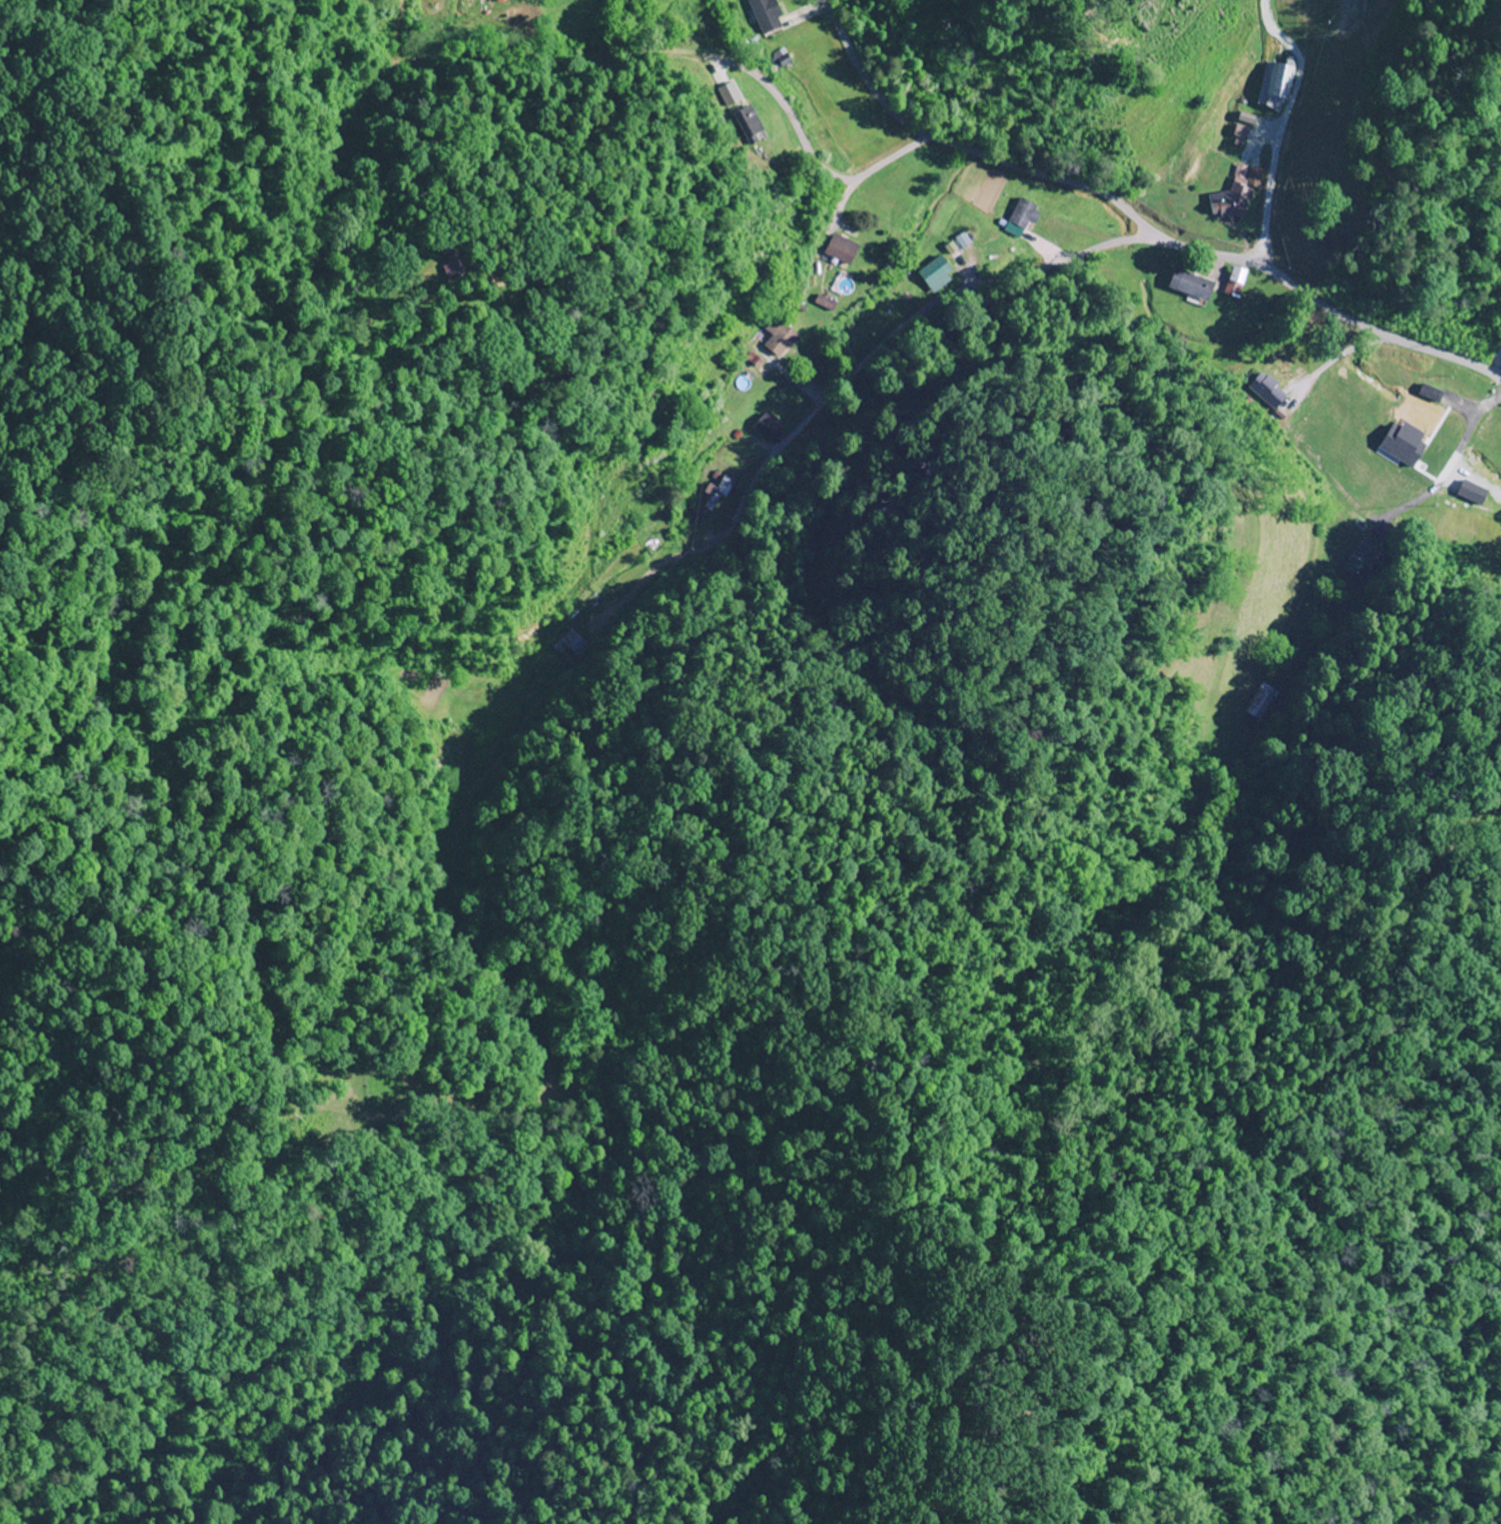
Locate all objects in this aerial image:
building: (501, 1)
building: (763, 11)
building: (1274, 86)
building: (1243, 121)
road: (963, 147)
building: (1236, 195)
building: (1025, 215)
building: (841, 250)
road: (1066, 264)
building: (449, 266)
building: (936, 274)
building: (1235, 282)
building: (778, 336)
building: (768, 428)
building: (1410, 453)
building: (719, 492)
building: (1361, 560)
building: (570, 648)
road: (1303, 685)
building: (1256, 705)

